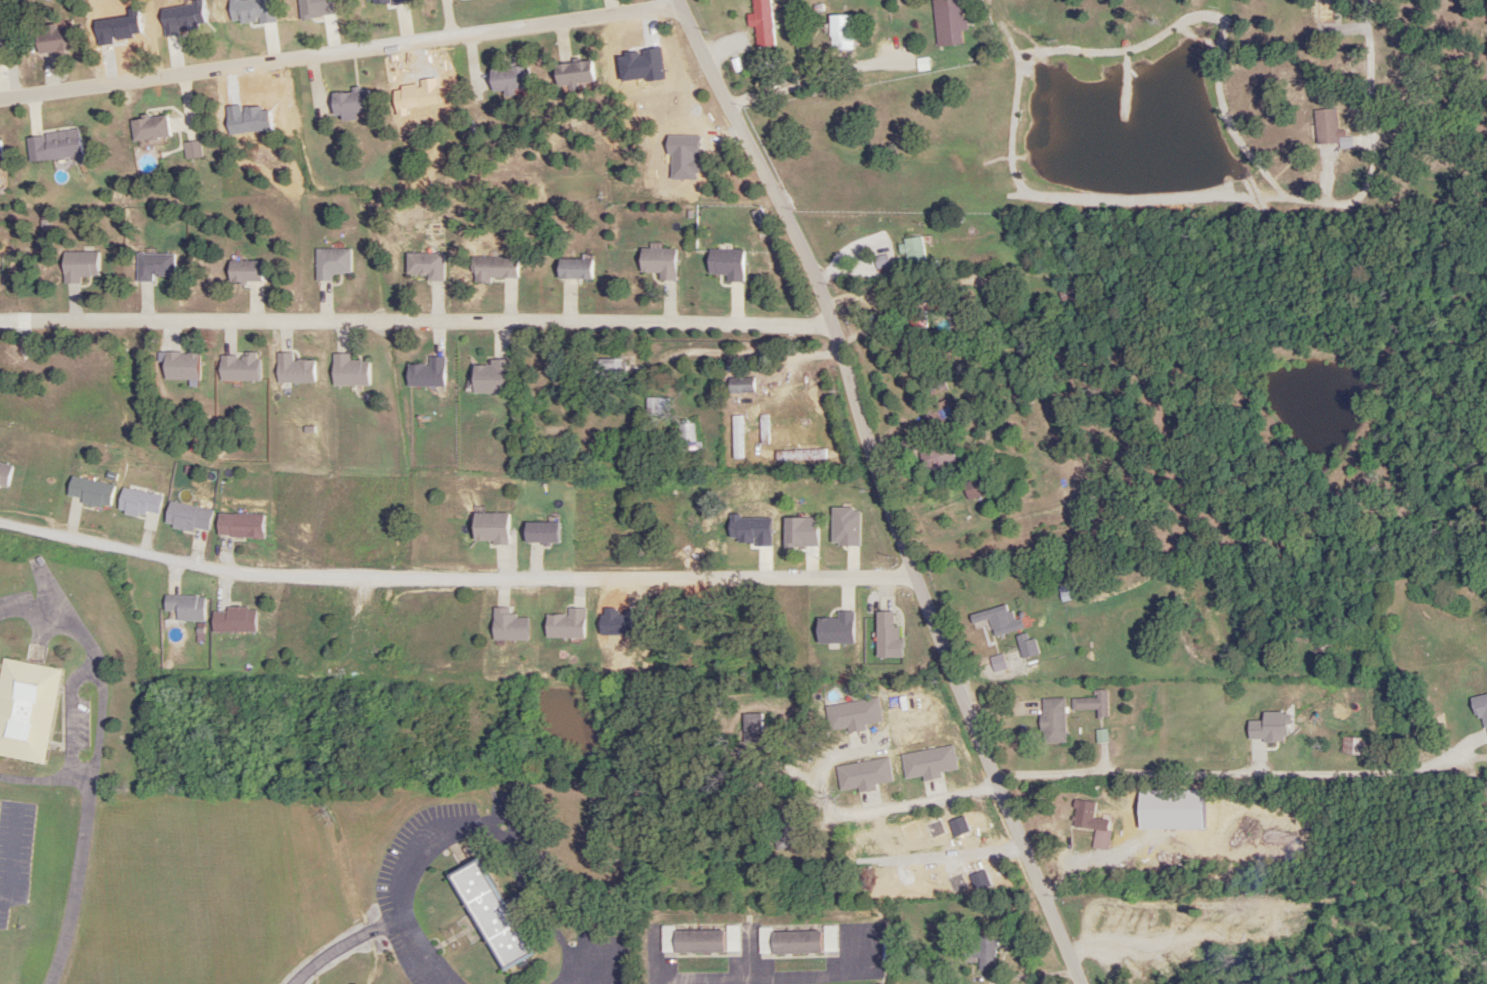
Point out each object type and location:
road: (1366, 2)
building: (762, 22)
building: (949, 25)
building: (839, 31)
building: (53, 42)
road: (341, 50)
building: (572, 74)
building: (507, 78)
building: (1338, 79)
road: (808, 83)
building: (348, 103)
building: (1325, 126)
building: (148, 127)
building: (52, 144)
building: (913, 250)
building: (1080, 287)
road: (927, 289)
building: (916, 315)
road: (483, 324)
road: (752, 356)
building: (608, 371)
building: (656, 407)
building: (945, 410)
building: (686, 434)
building: (937, 457)
building: (974, 489)
road: (884, 490)
road: (957, 531)
road: (443, 578)
building: (1066, 593)
building: (995, 620)
building: (1026, 646)
building: (1092, 703)
road: (104, 708)
building: (25, 709)
building: (1051, 721)
building: (1353, 746)
road: (912, 804)
road: (476, 823)
building: (784, 826)
building: (1099, 835)
road: (10, 857)
road: (74, 882)
building: (492, 916)
building: (828, 938)
building: (732, 939)
building: (690, 941)
building: (787, 942)
road: (348, 949)
building: (983, 953)
road: (655, 963)

